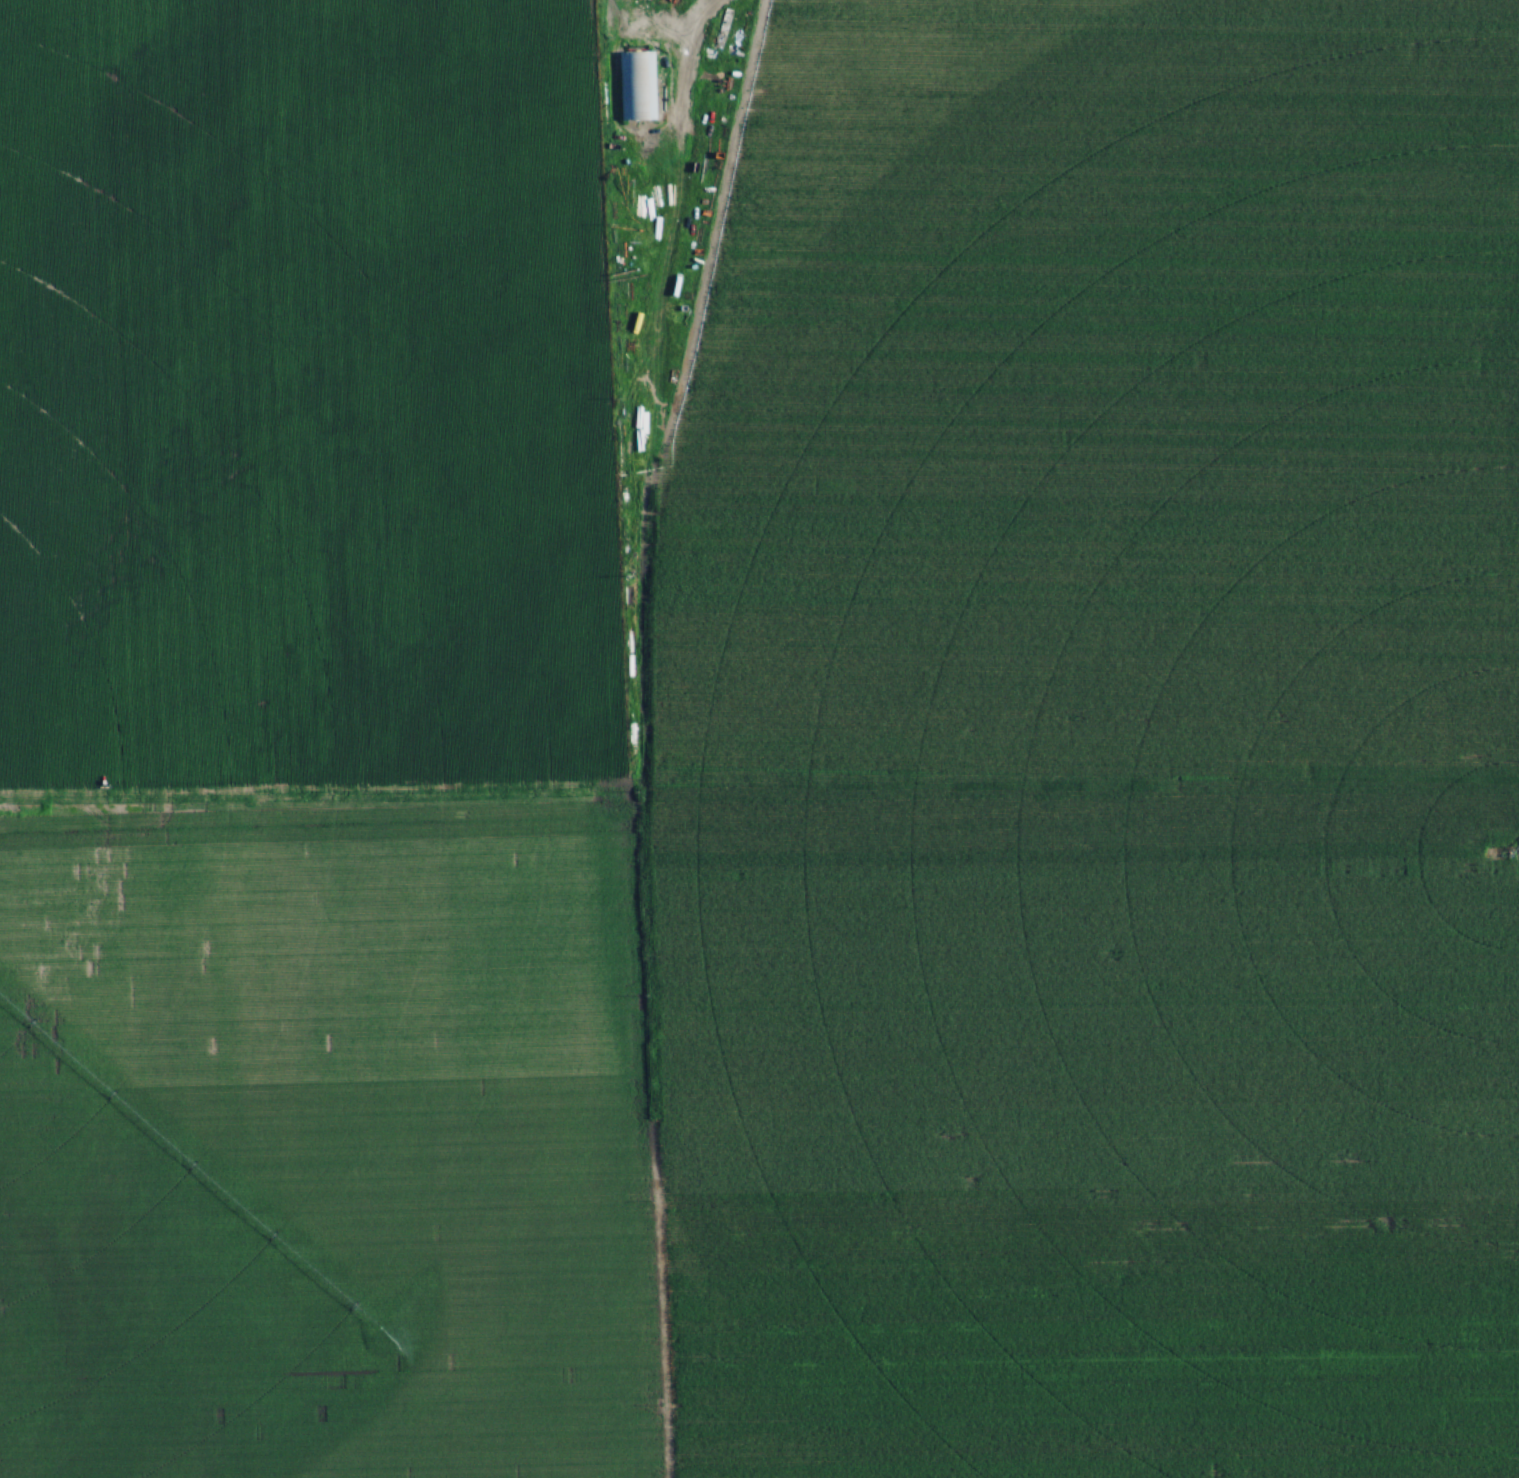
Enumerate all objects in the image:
building: (670, 385)

